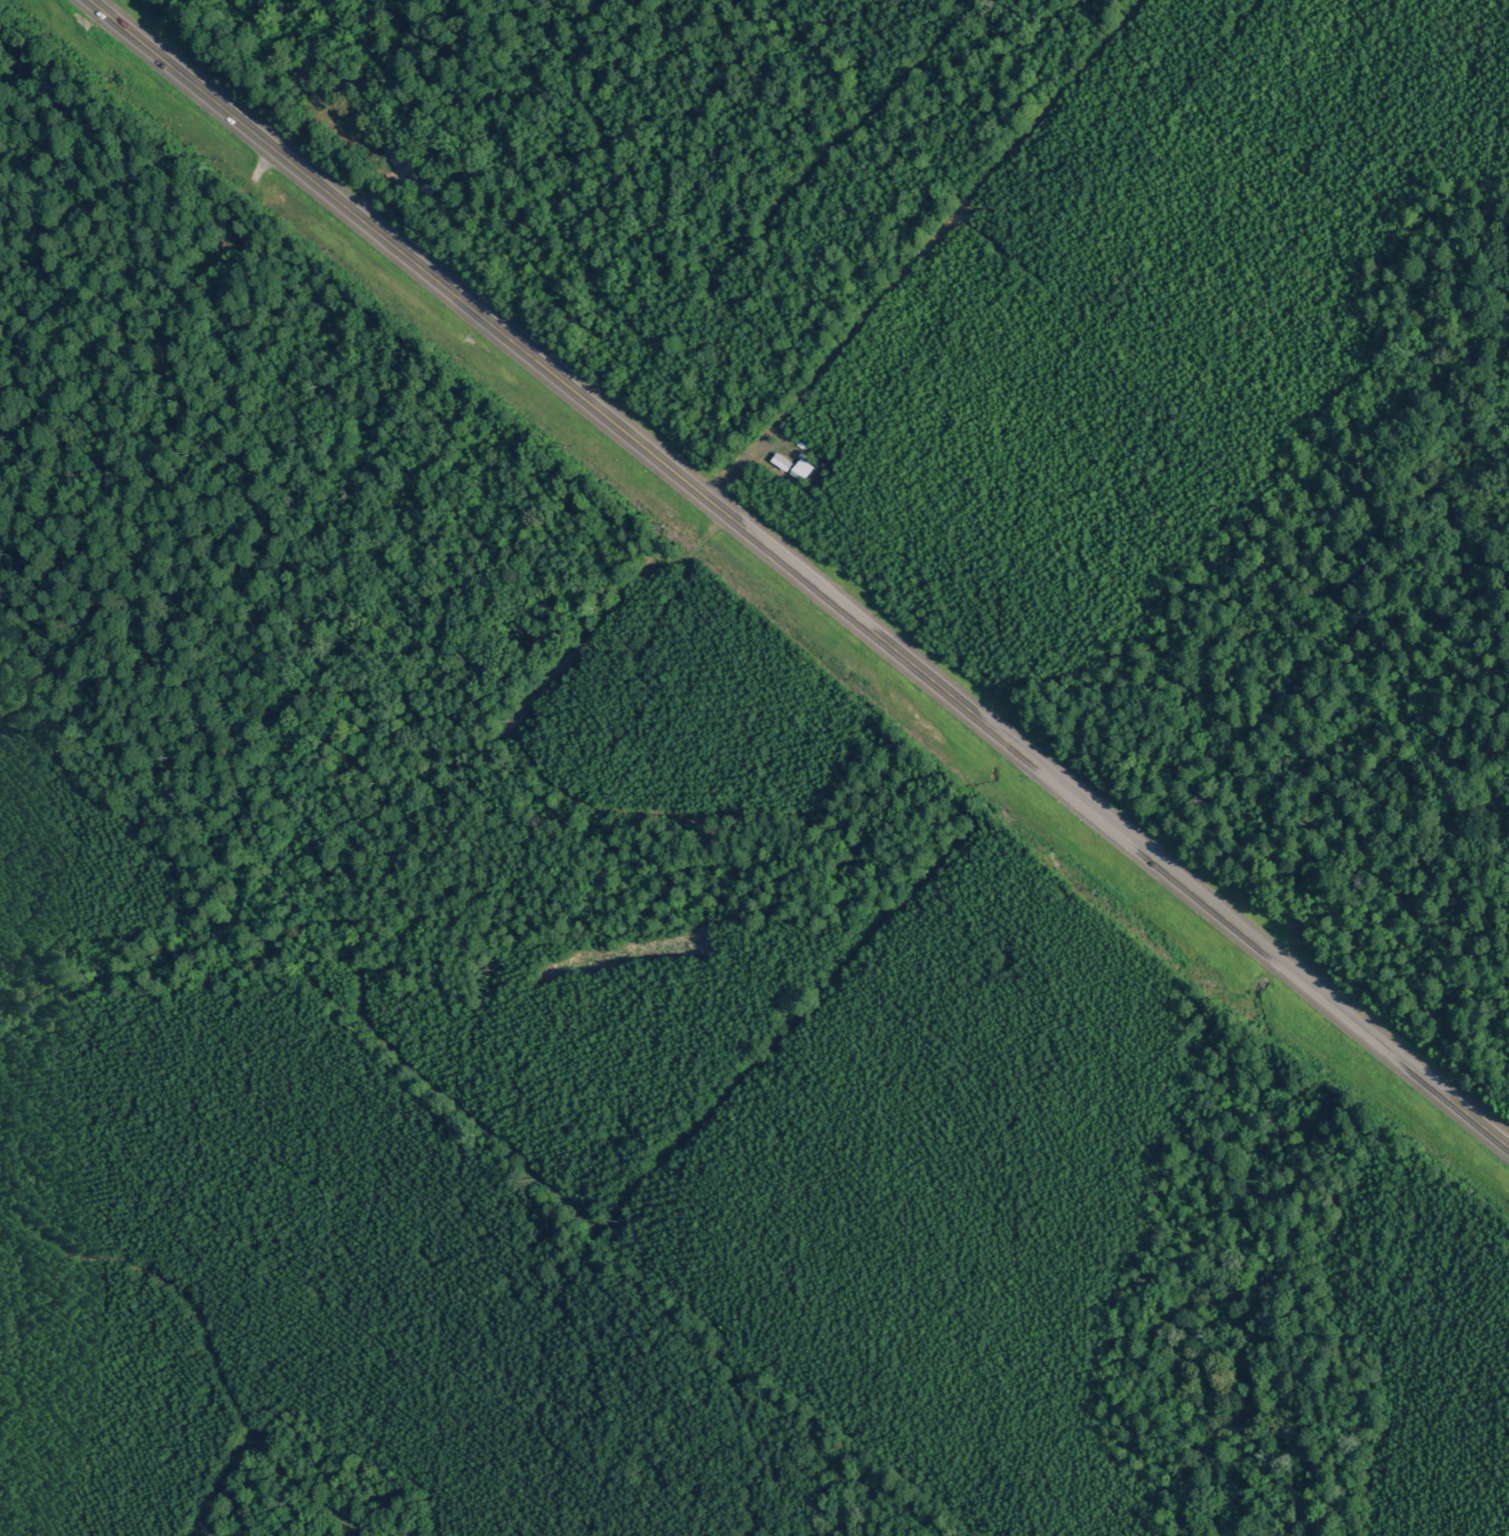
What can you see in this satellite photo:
road: (798, 570)

